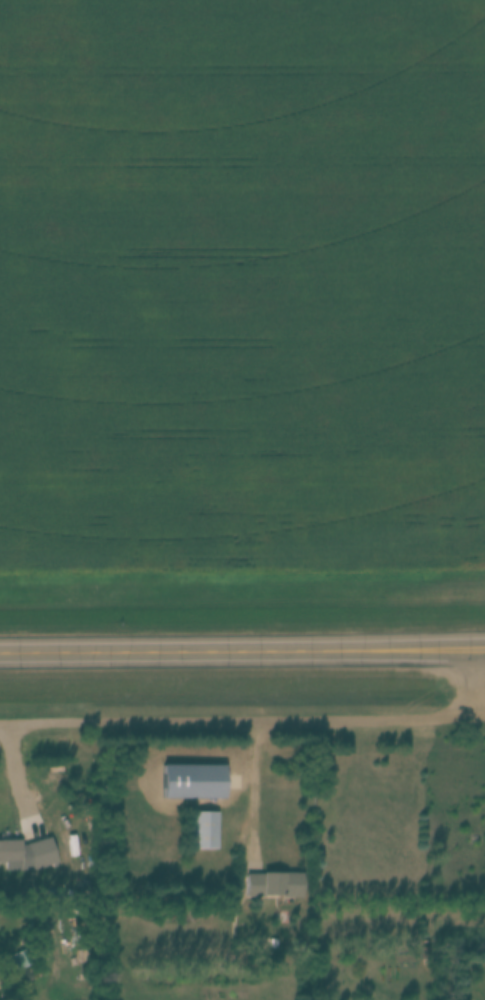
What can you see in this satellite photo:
road: (242, 643)
road: (242, 722)
building: (193, 781)
road: (255, 795)
building: (203, 829)
building: (10, 850)
building: (41, 851)
building: (273, 884)
building: (20, 958)

